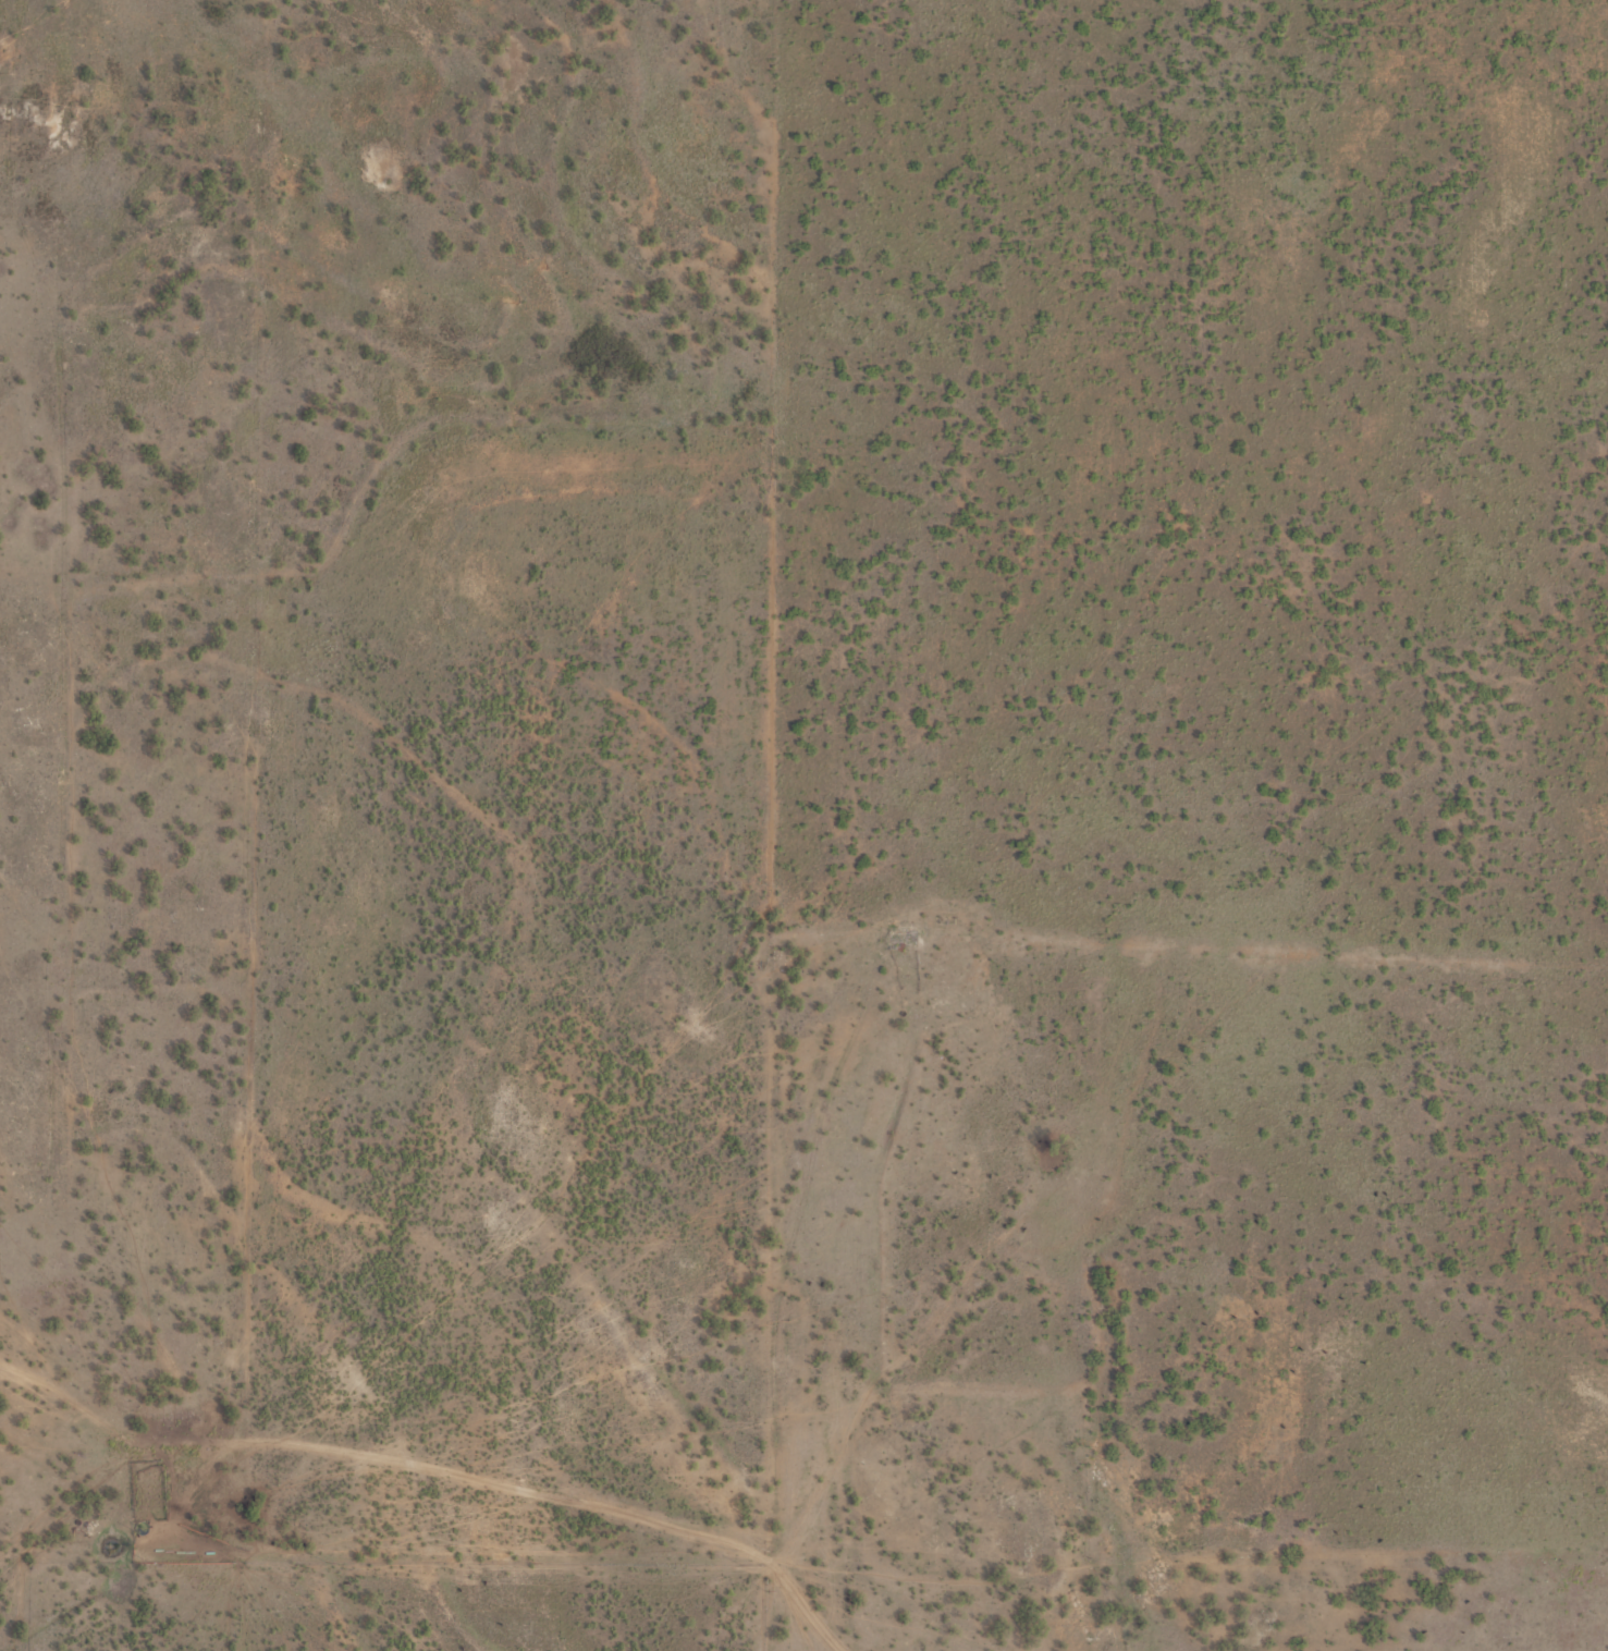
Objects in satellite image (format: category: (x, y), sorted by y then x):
road: (911, 834)

